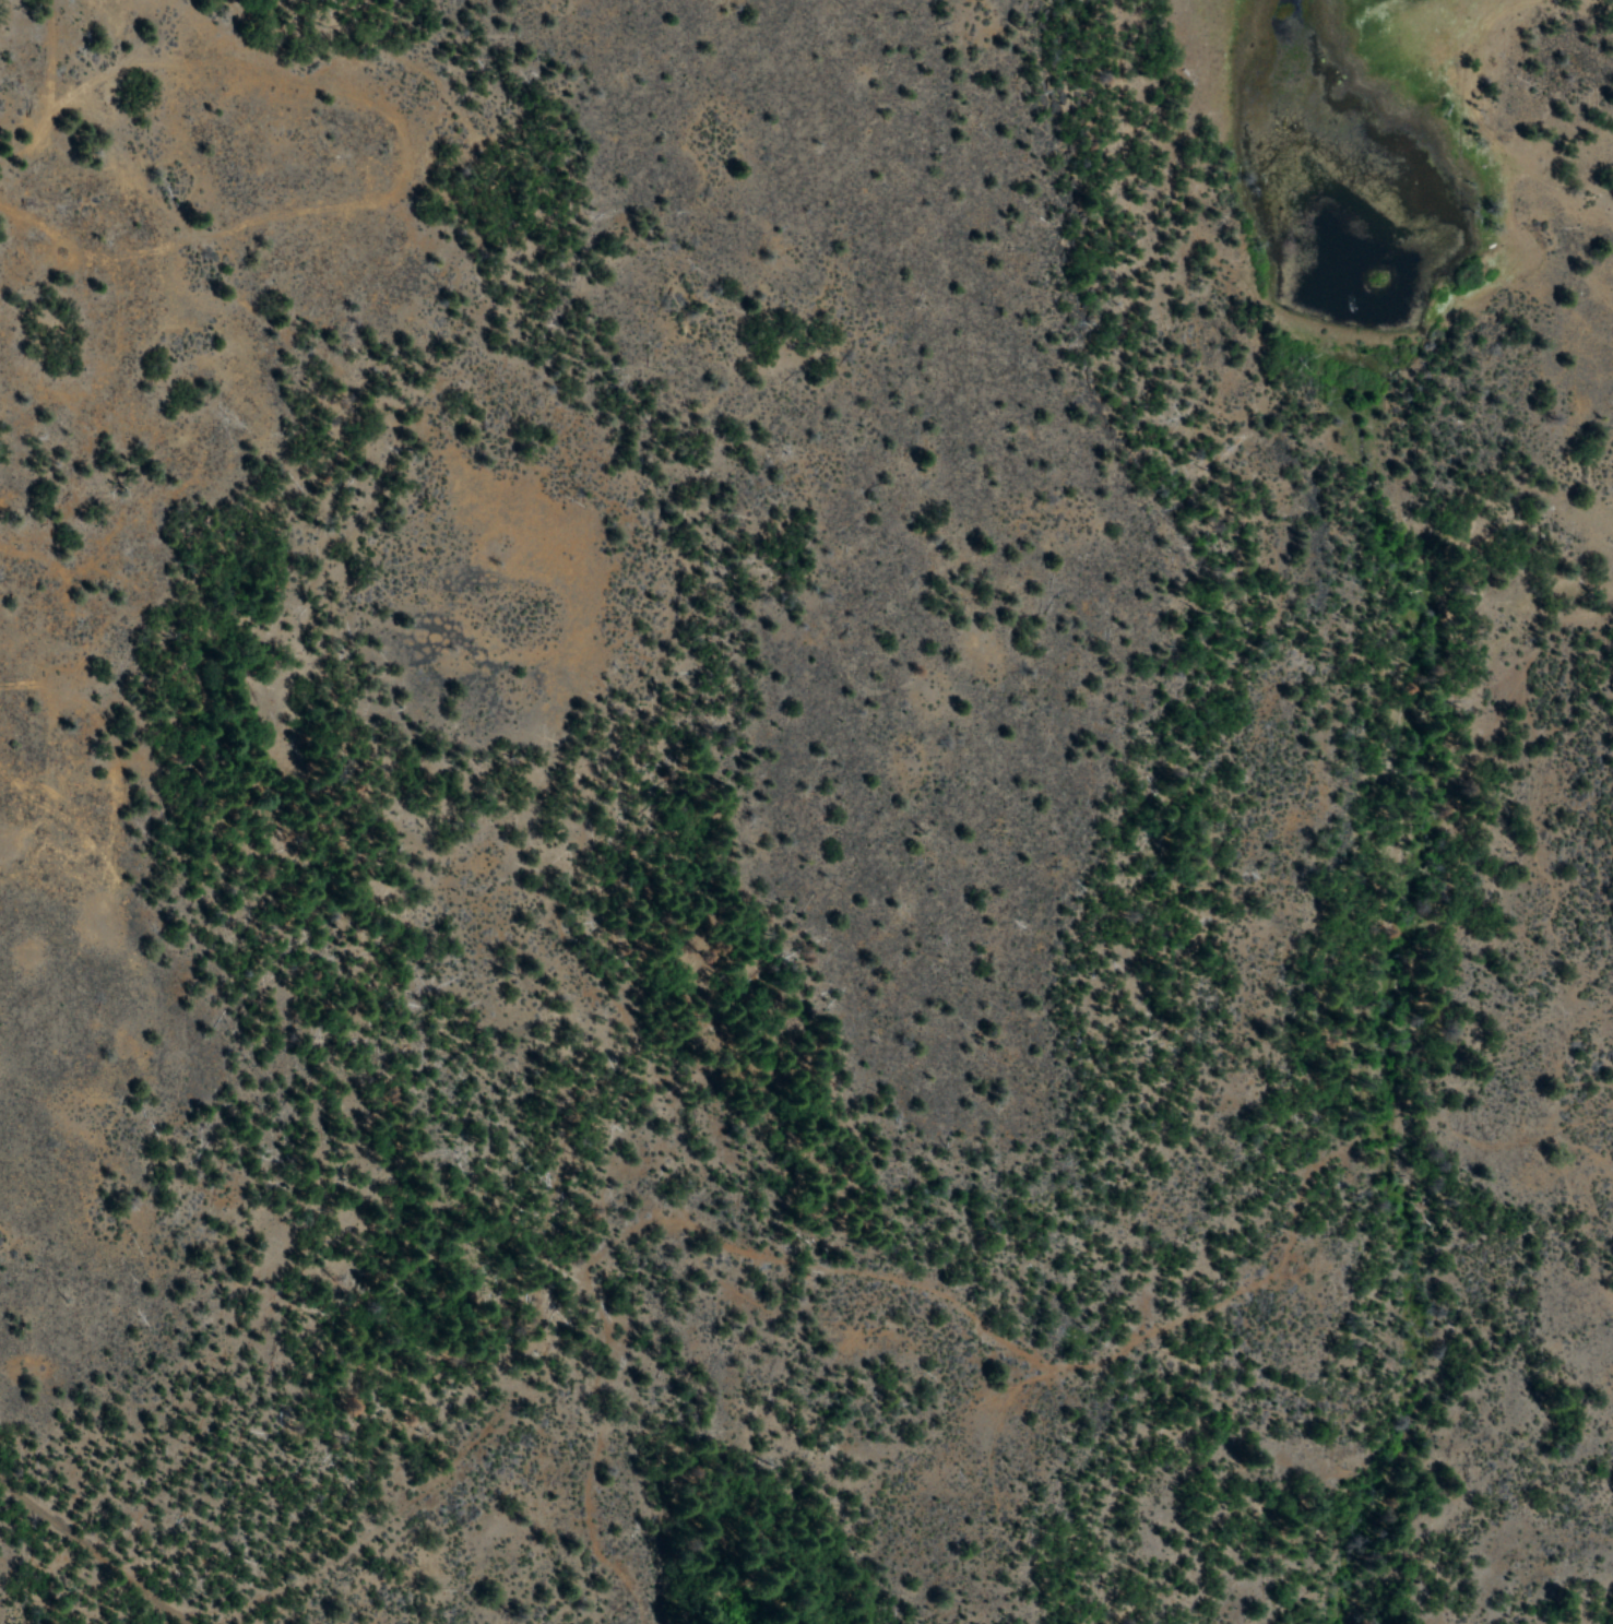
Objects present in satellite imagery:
road: (93, 1549)

